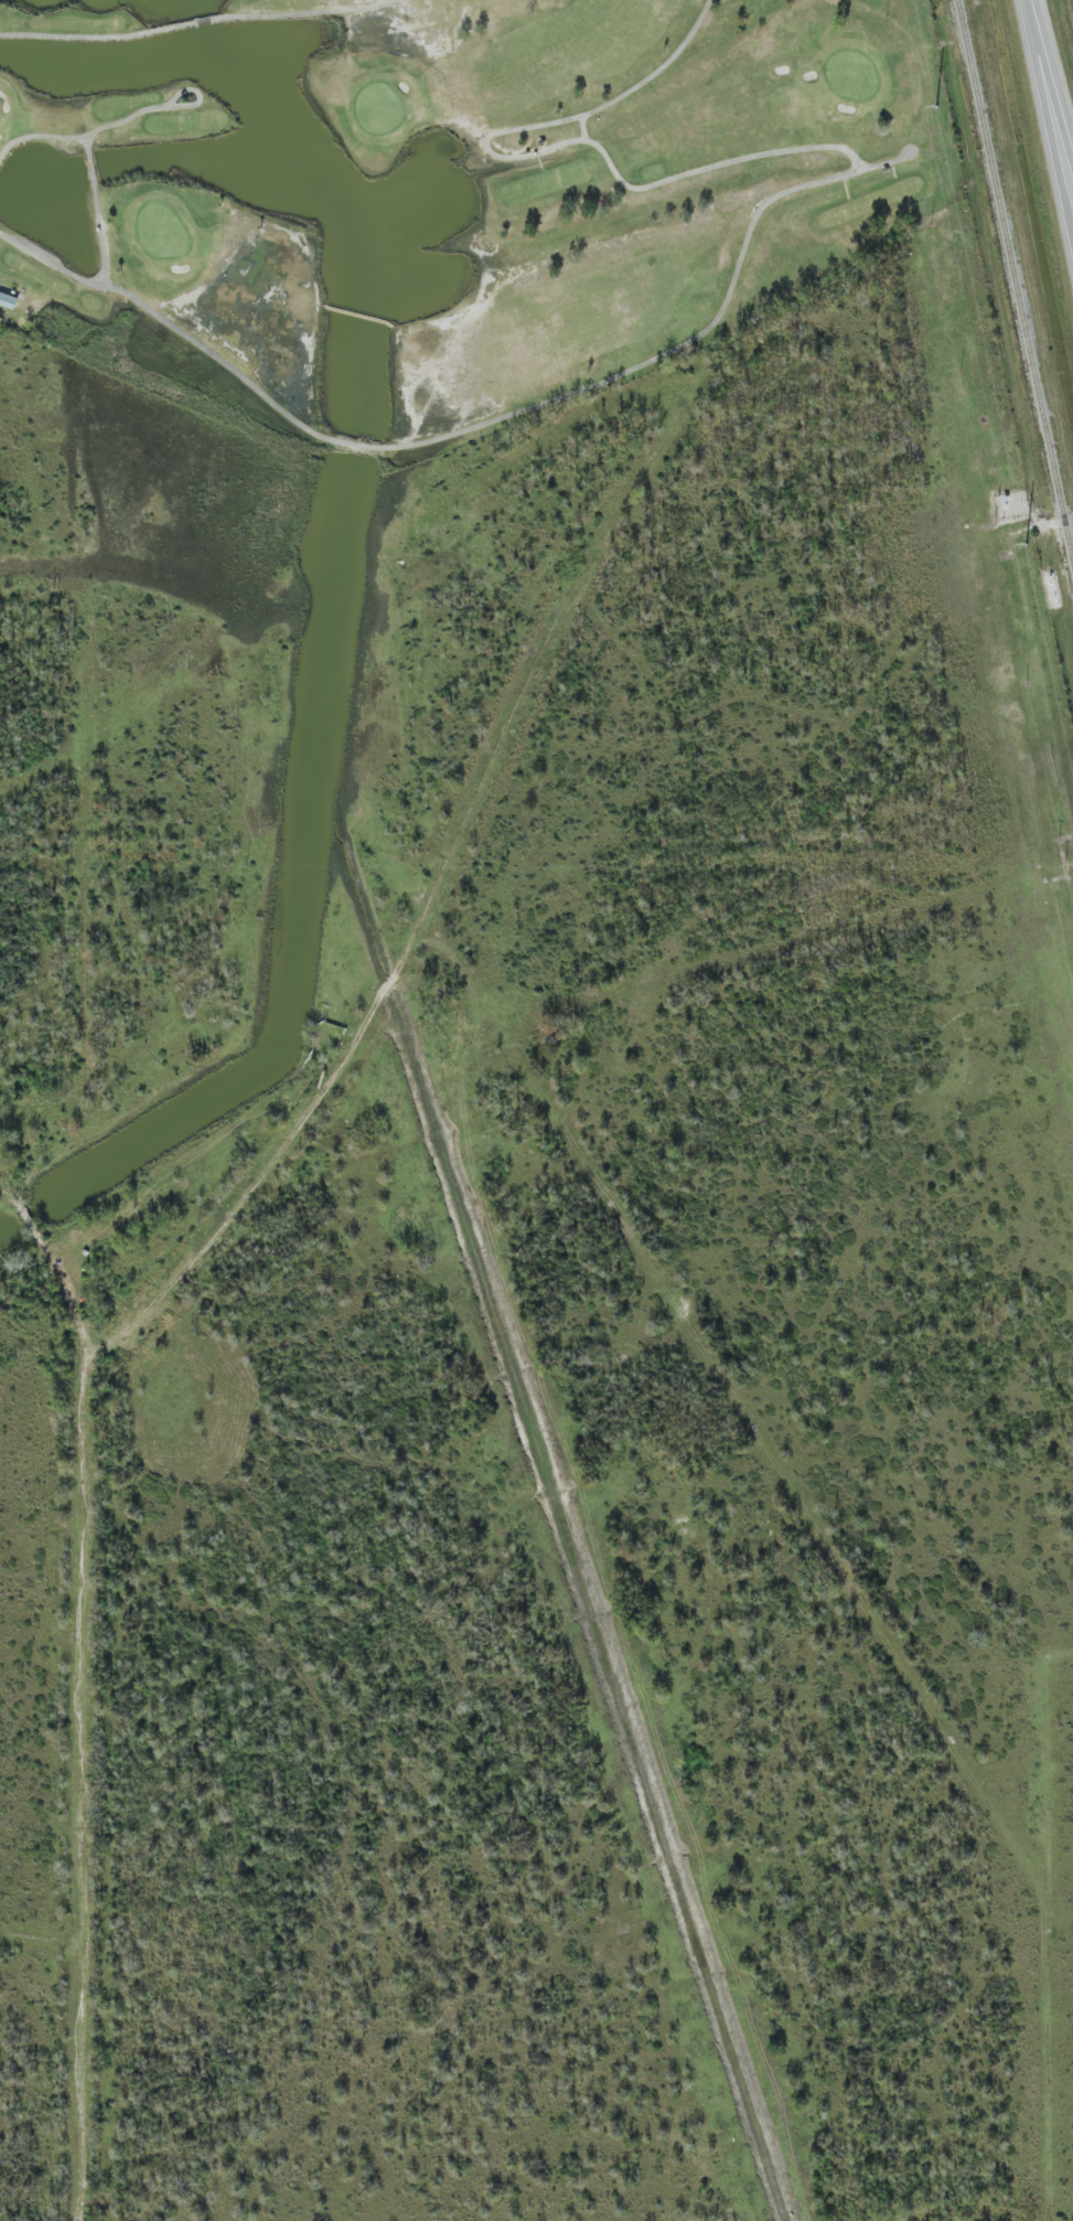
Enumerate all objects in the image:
road: (1052, 71)
road: (1051, 104)
power tower: (938, 108)
railway: (1013, 282)
building: (9, 298)
power tower: (1028, 544)

